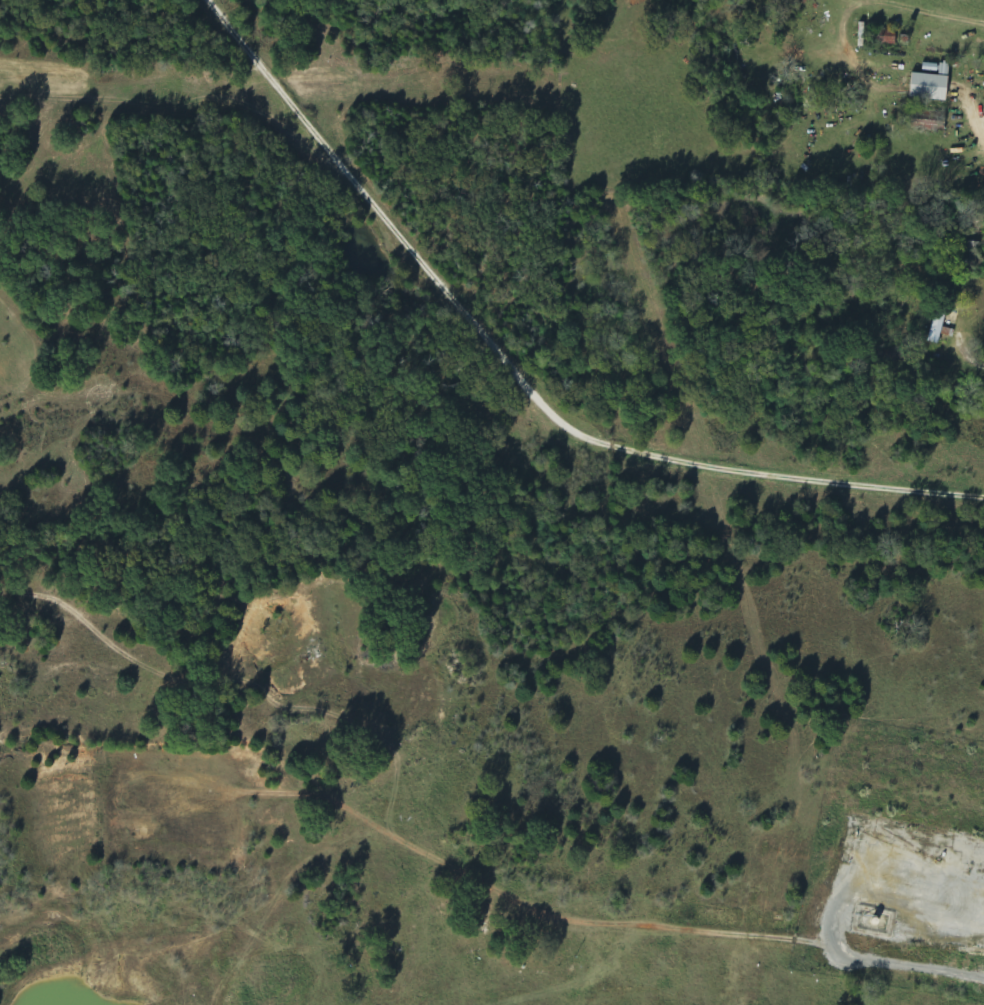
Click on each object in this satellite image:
building: (930, 84)
building: (936, 328)

